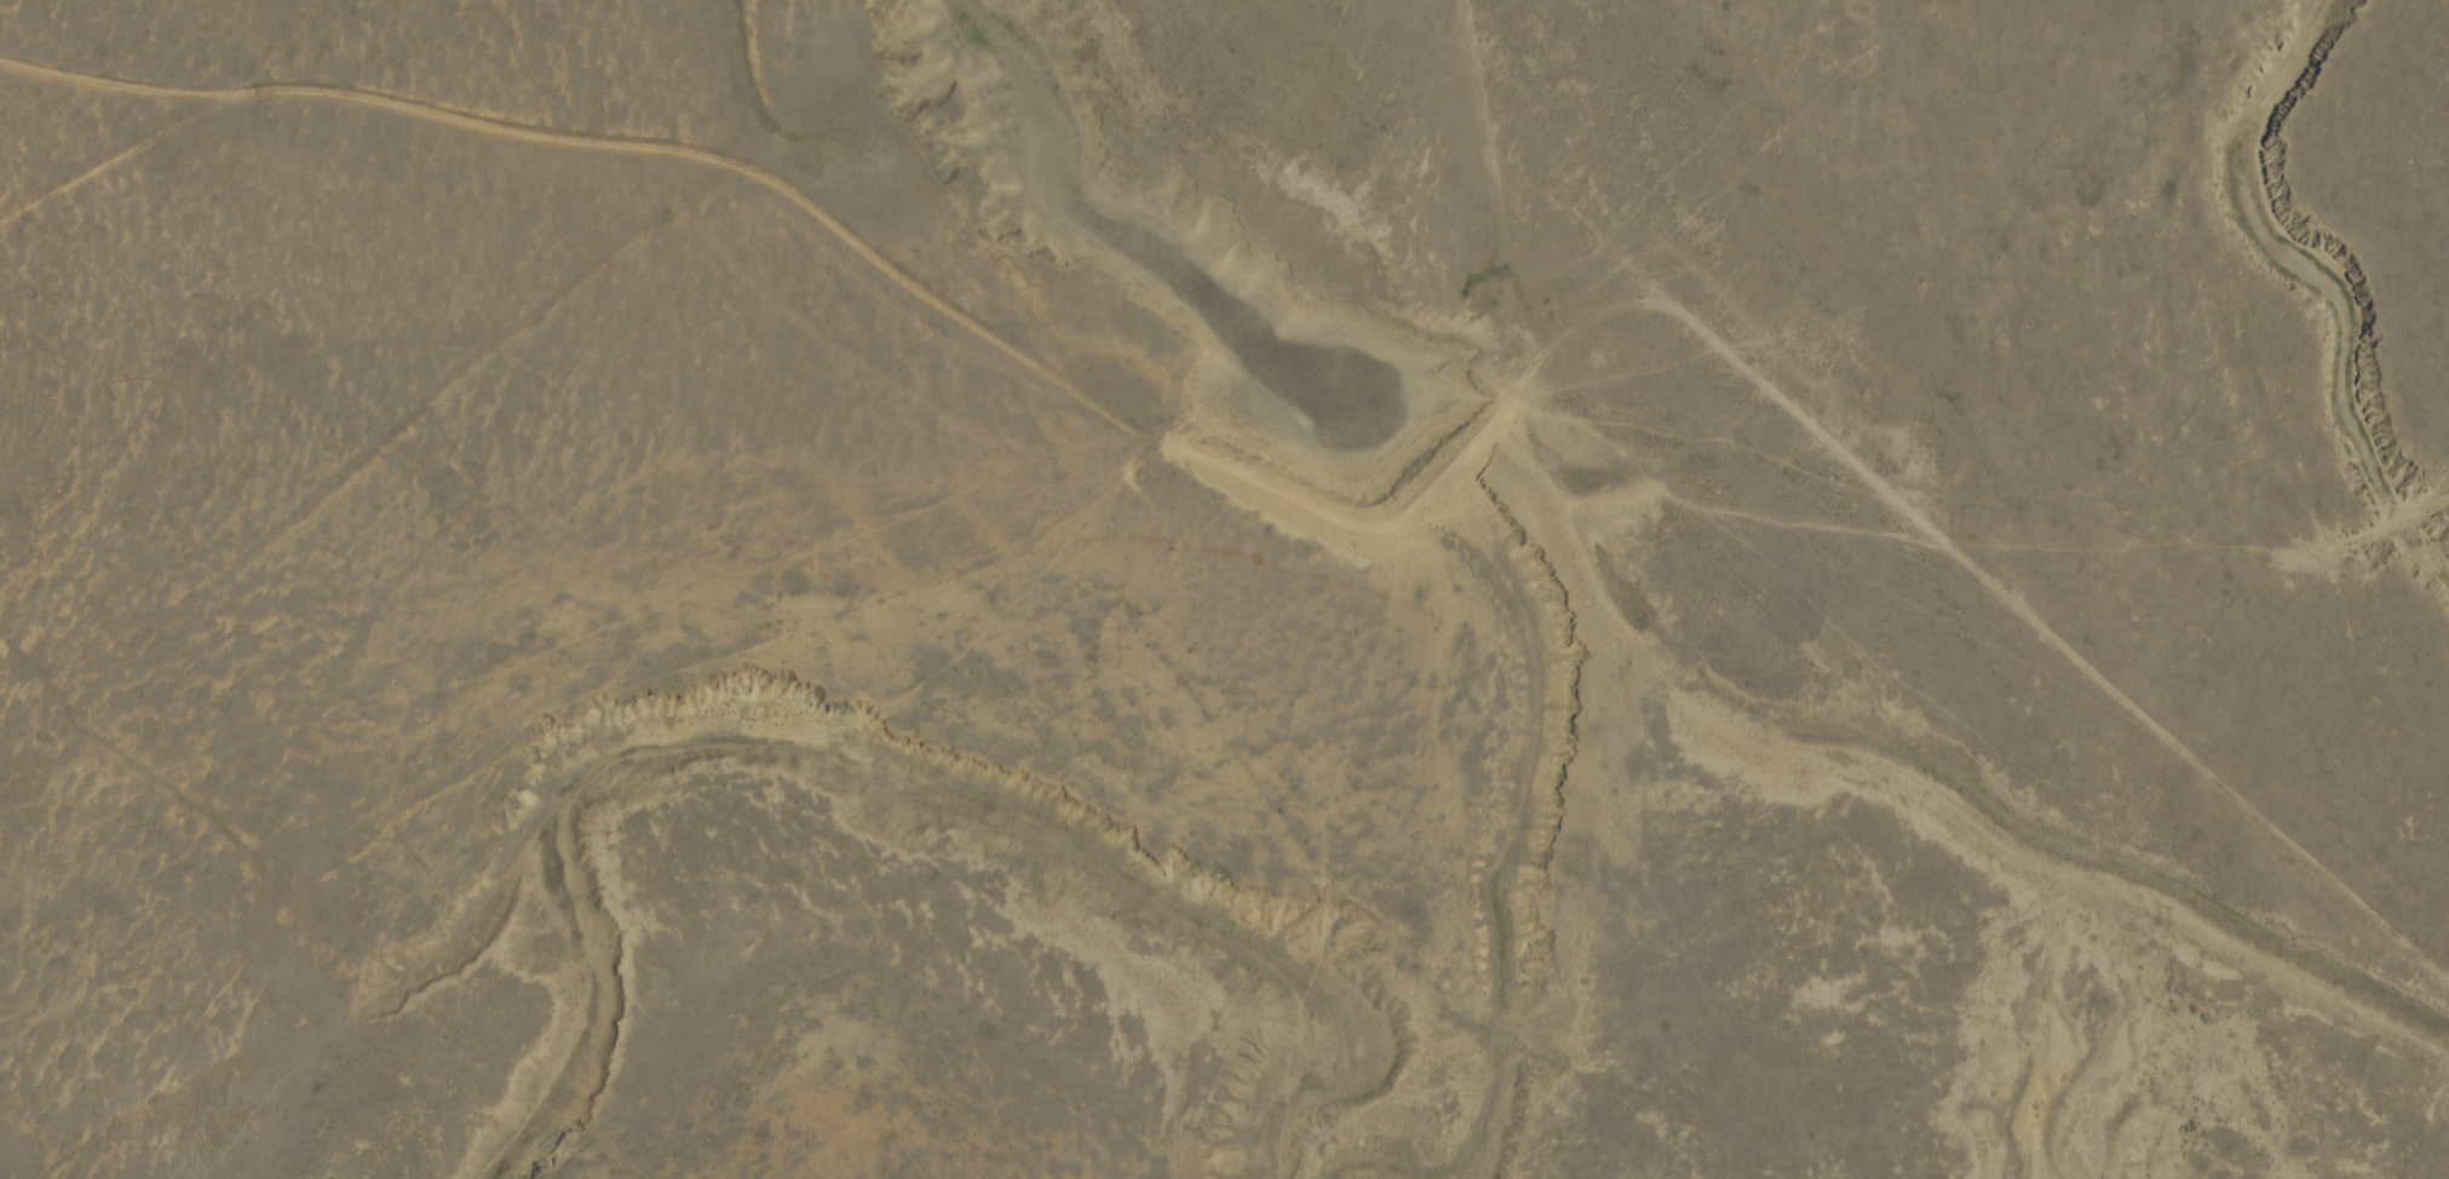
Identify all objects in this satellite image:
road: (120, 82)

